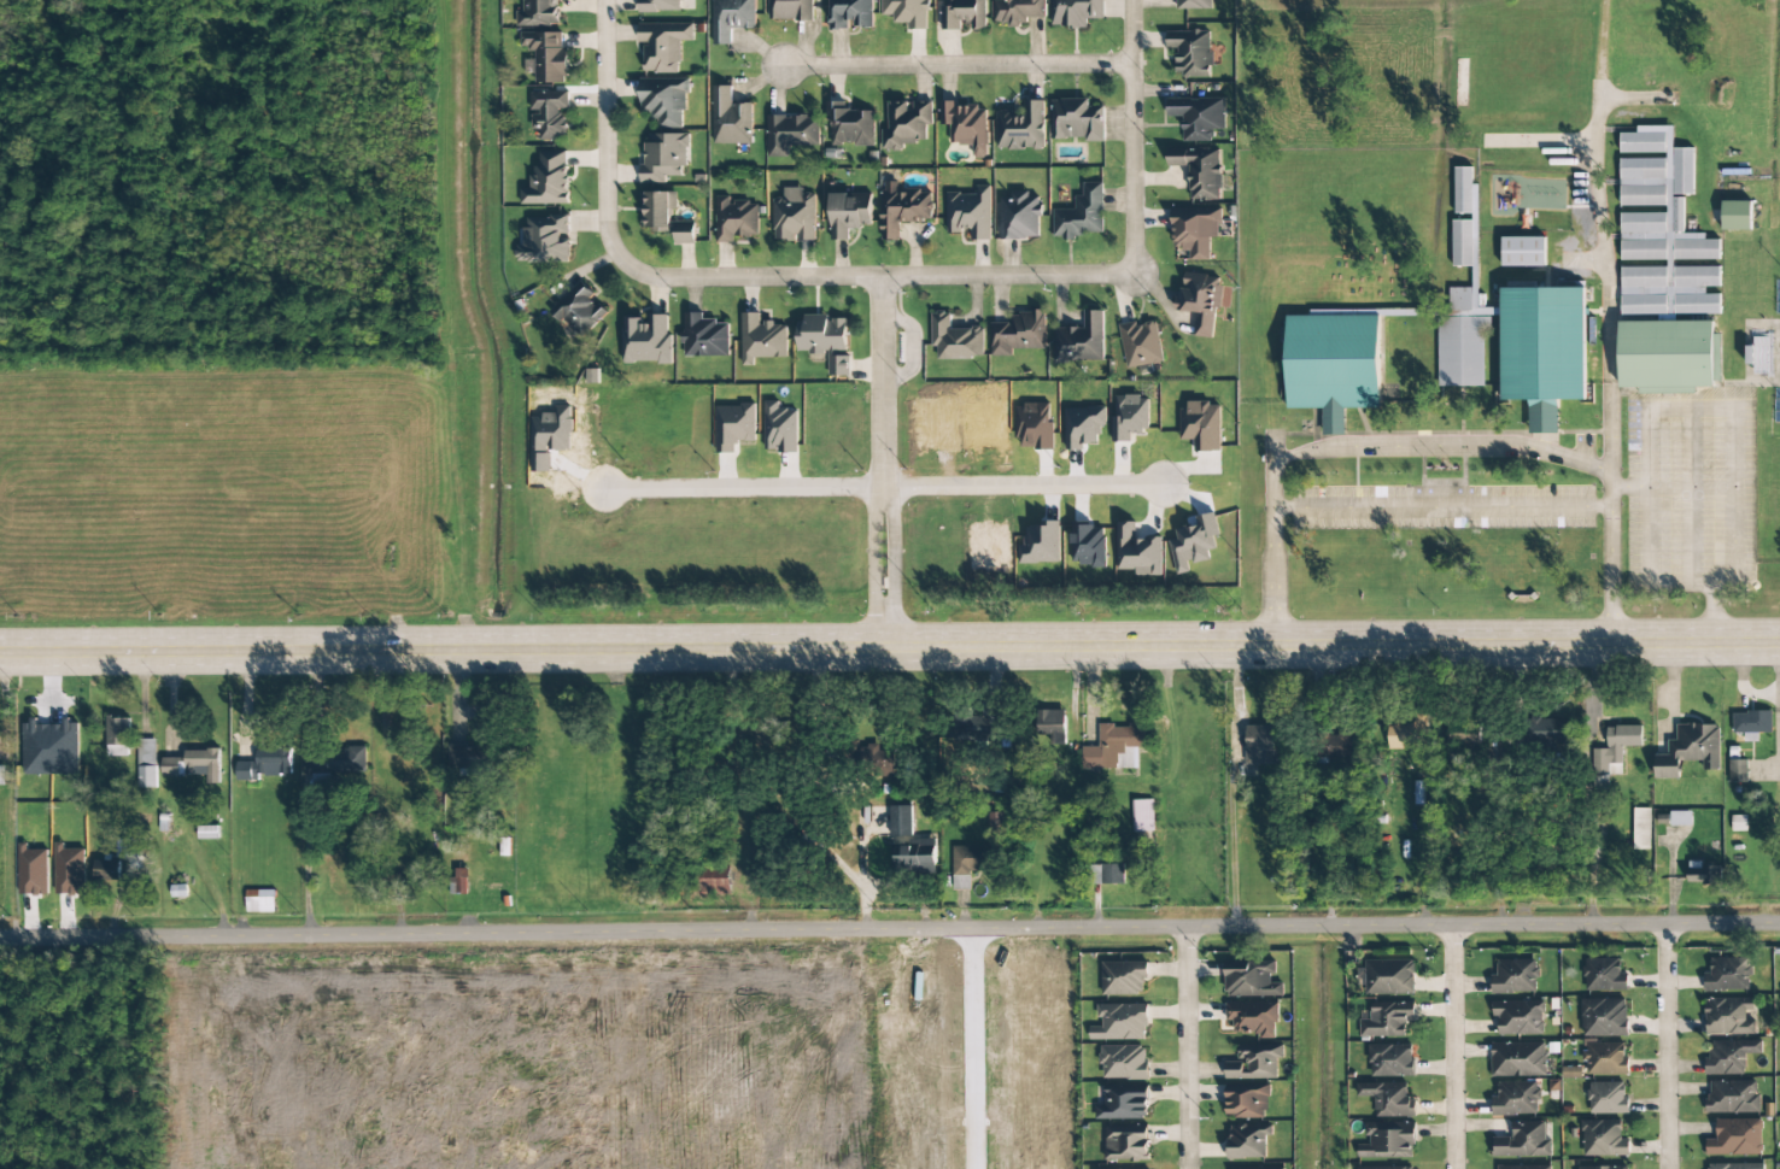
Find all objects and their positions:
building: (1194, 4)
building: (660, 5)
building: (790, 10)
building: (1017, 11)
building: (907, 12)
building: (1075, 12)
building: (539, 13)
building: (850, 13)
building: (964, 14)
building: (731, 18)
building: (663, 45)
building: (1190, 52)
building: (548, 55)
road: (954, 60)
building: (664, 100)
building: (549, 113)
building: (1198, 117)
building: (731, 118)
building: (1077, 119)
building: (906, 124)
building: (850, 125)
building: (966, 125)
building: (1020, 127)
building: (790, 134)
road: (1131, 136)
building: (663, 157)
building: (1199, 171)
building: (548, 181)
building: (657, 208)
building: (902, 208)
building: (970, 212)
building: (849, 213)
building: (1082, 215)
building: (794, 216)
building: (1019, 216)
building: (1735, 216)
building: (734, 219)
building: (1194, 230)
building: (1662, 231)
building: (684, 234)
building: (544, 240)
building: (1462, 242)
building: (1523, 252)
road: (744, 278)
building: (1200, 301)
building: (579, 310)
building: (1018, 334)
building: (704, 336)
building: (646, 339)
building: (761, 339)
building: (955, 339)
building: (825, 340)
building: (1081, 340)
building: (1140, 343)
building: (1520, 347)
building: (1759, 356)
building: (1668, 357)
building: (1333, 364)
building: (1130, 417)
building: (1201, 425)
building: (734, 427)
building: (780, 428)
building: (550, 437)
road: (884, 462)
road: (882, 487)
building: (1194, 542)
building: (1041, 545)
building: (1137, 551)
road: (890, 645)
building: (1751, 724)
building: (1053, 726)
building: (1550, 732)
building: (117, 736)
building: (1259, 745)
building: (1334, 745)
building: (1114, 747)
building: (1615, 747)
building: (1688, 750)
building: (469, 757)
building: (318, 762)
building: (877, 762)
building: (147, 763)
building: (265, 764)
building: (194, 765)
building: (1738, 770)
building: (2, 775)
building: (1142, 815)
building: (1680, 818)
building: (901, 821)
building: (1641, 828)
building: (207, 832)
building: (915, 858)
building: (972, 859)
building: (33, 870)
building: (70, 870)
building: (107, 870)
building: (1106, 874)
building: (1704, 875)
building: (713, 877)
building: (459, 881)
building: (961, 882)
building: (259, 901)
road: (889, 929)
building: (1604, 975)
building: (1728, 975)
building: (1515, 976)
building: (1389, 977)
building: (1124, 979)
building: (1251, 979)
building: (1728, 1016)
building: (1518, 1017)
building: (1604, 1017)
building: (1252, 1018)
building: (1387, 1020)
building: (1120, 1022)
road: (1665, 1046)
road: (1453, 1047)
road: (971, 1048)
road: (1188, 1048)
building: (1729, 1057)
building: (1604, 1058)
building: (1390, 1059)
building: (1517, 1059)
building: (1124, 1062)
building: (1254, 1062)
building: (1570, 1073)
building: (1733, 1097)
building: (1608, 1098)
building: (1388, 1099)
building: (1516, 1099)
building: (1247, 1100)
building: (1123, 1104)
building: (1735, 1138)
building: (1603, 1139)
building: (1248, 1140)
building: (1388, 1140)
building: (1522, 1141)
building: (1126, 1142)
building: (1734, 1165)
building: (1524, 1167)
building: (1603, 1167)
building: (1260, 1168)
building: (1388, 1168)

